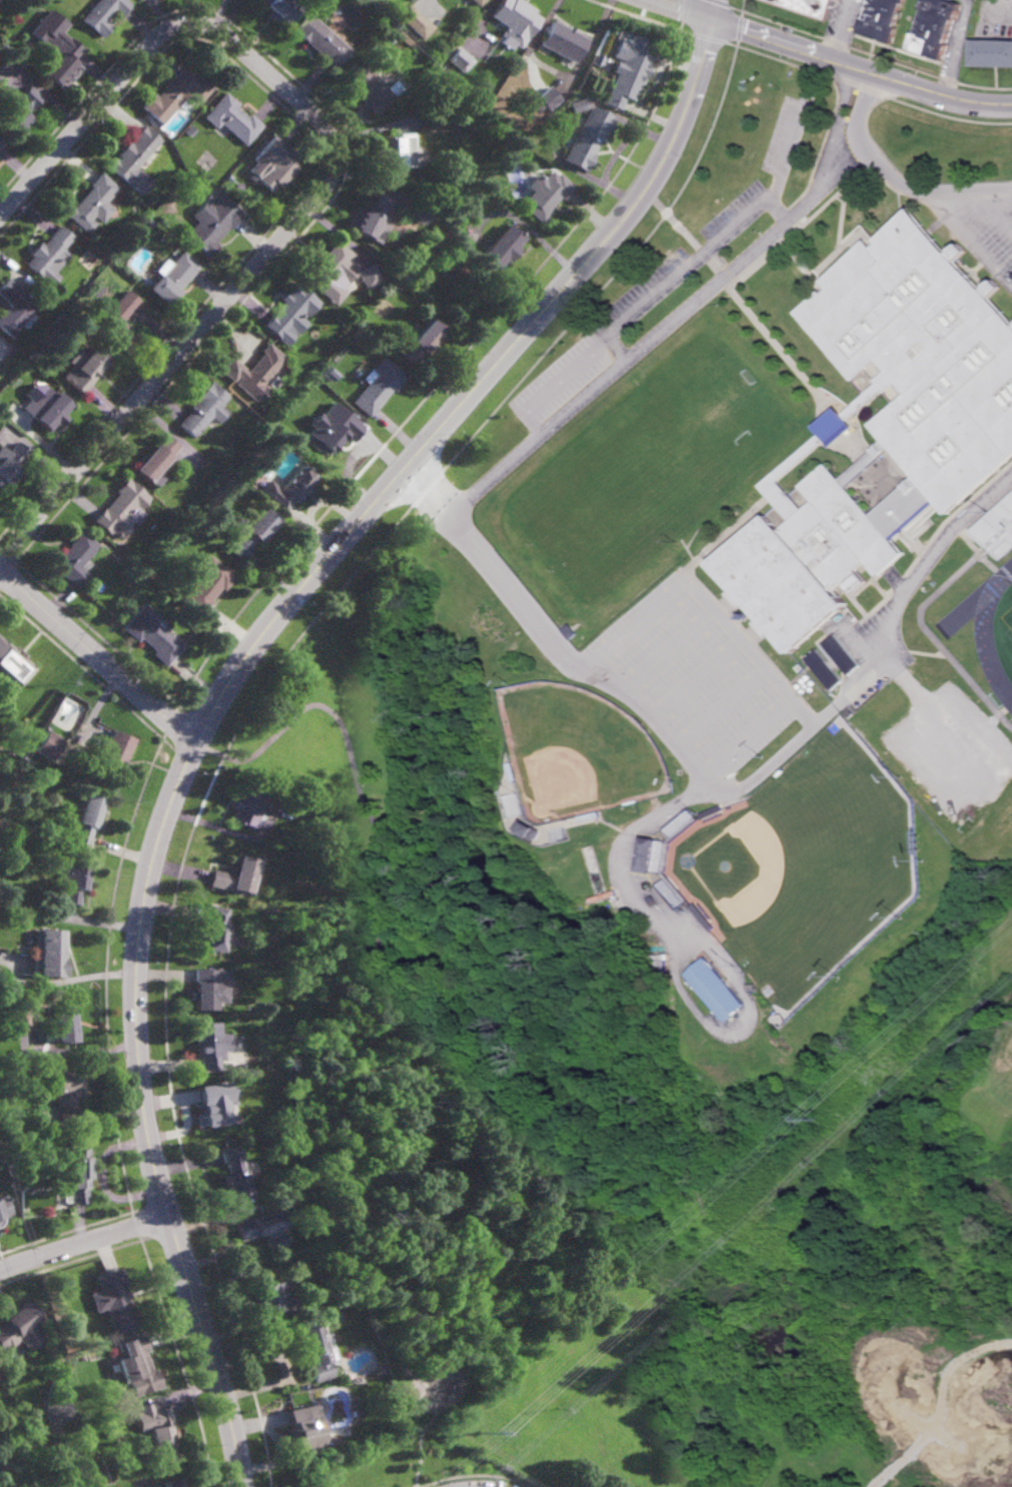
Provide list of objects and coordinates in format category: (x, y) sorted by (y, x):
building: (413, 0)
building: (477, 2)
building: (814, 6)
building: (282, 10)
building: (105, 14)
building: (882, 19)
building: (514, 20)
building: (418, 21)
building: (937, 27)
road: (842, 31)
building: (323, 40)
building: (561, 40)
building: (57, 48)
road: (958, 48)
building: (991, 52)
building: (461, 59)
road: (829, 61)
building: (626, 68)
building: (443, 84)
building: (375, 86)
building: (179, 93)
building: (548, 97)
building: (577, 104)
building: (18, 108)
building: (442, 115)
building: (234, 118)
building: (191, 130)
building: (465, 136)
building: (588, 137)
building: (1, 143)
building: (1, 150)
building: (399, 152)
building: (512, 158)
building: (136, 159)
building: (276, 163)
road: (332, 178)
road: (894, 181)
building: (547, 194)
building: (94, 203)
building: (424, 211)
road: (773, 211)
road: (1000, 217)
building: (376, 218)
road: (988, 221)
building: (215, 223)
road: (713, 242)
building: (504, 246)
building: (51, 256)
building: (343, 269)
building: (175, 278)
building: (15, 307)
road: (741, 307)
building: (294, 312)
road: (681, 312)
building: (119, 321)
building: (424, 341)
building: (89, 370)
building: (256, 371)
building: (318, 384)
road: (558, 384)
building: (379, 386)
building: (49, 409)
building: (207, 409)
building: (886, 422)
building: (335, 435)
building: (158, 461)
building: (11, 463)
park: (637, 481)
building: (288, 489)
building: (123, 510)
road: (448, 513)
building: (999, 532)
building: (252, 535)
building: (76, 560)
building: (208, 584)
road: (706, 604)
track: (983, 627)
building: (153, 633)
park: (1011, 636)
road: (668, 651)
building: (843, 651)
road: (98, 655)
building: (13, 662)
building: (798, 668)
building: (824, 670)
road: (234, 676)
road: (694, 680)
road: (259, 690)
parking lot: (704, 691)
road: (718, 709)
building: (848, 714)
road: (743, 738)
parking lot: (956, 744)
building: (49, 745)
park: (580, 753)
building: (115, 754)
building: (516, 771)
road: (743, 788)
building: (245, 807)
building: (726, 809)
building: (709, 813)
building: (590, 816)
building: (87, 818)
building: (531, 827)
building: (645, 854)
park: (804, 868)
building: (234, 876)
building: (74, 881)
building: (702, 917)
building: (217, 930)
building: (50, 953)
road: (682, 957)
building: (657, 958)
building: (657, 964)
building: (657, 970)
building: (210, 987)
building: (715, 990)
road: (469, 1009)
building: (64, 1024)
building: (210, 1045)
road: (374, 1061)
park: (448, 1063)
building: (64, 1094)
building: (214, 1102)
power tower: (820, 1119)
road: (400, 1122)
building: (232, 1175)
building: (80, 1176)
building: (4, 1210)
building: (257, 1230)
road: (83, 1243)
building: (269, 1300)
building: (118, 1302)
building: (336, 1320)
building: (20, 1329)
building: (316, 1354)
building: (137, 1367)
building: (359, 1384)
building: (305, 1429)
power tower: (478, 1429)
building: (155, 1431)
building: (55, 1432)
road: (477, 1476)
building: (172, 1483)

